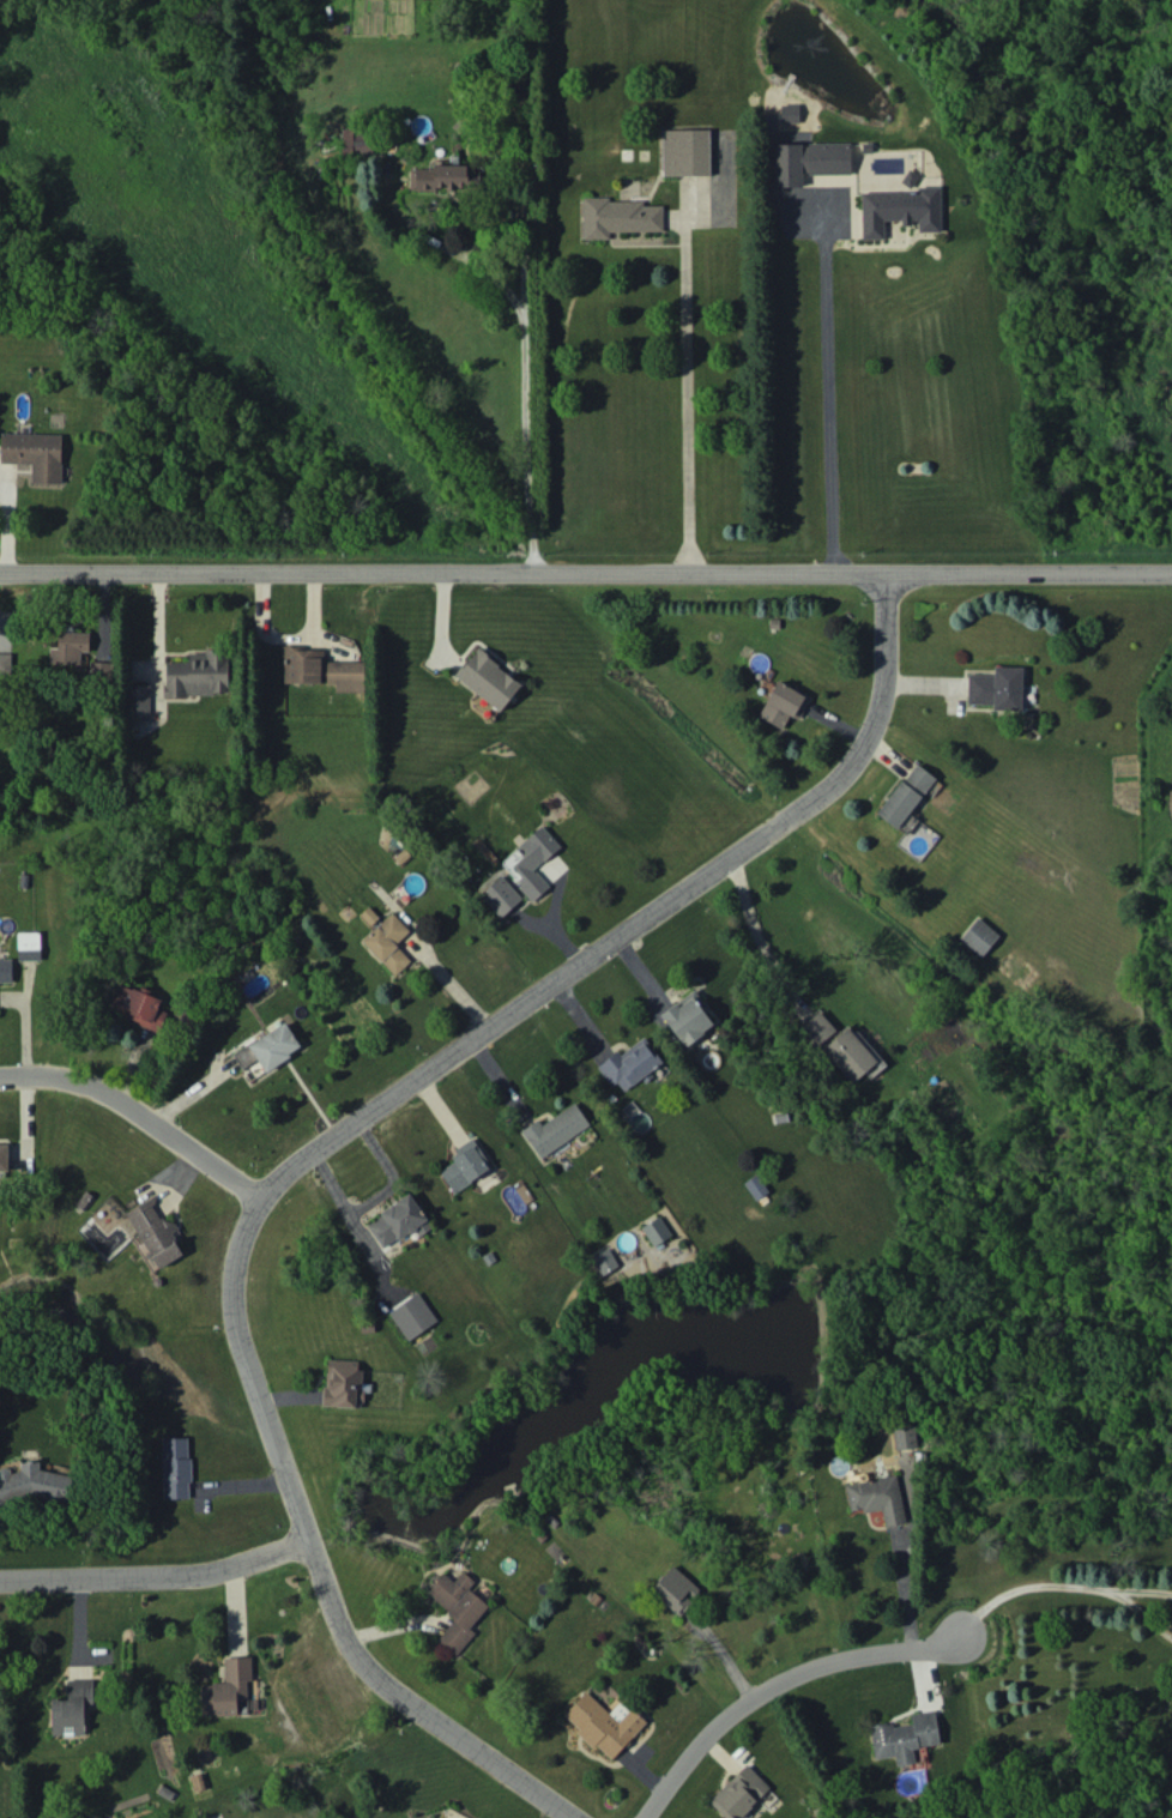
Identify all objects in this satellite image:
building: (790, 113)
building: (356, 141)
building: (685, 151)
building: (809, 161)
building: (440, 176)
building: (900, 210)
building: (617, 216)
road: (824, 392)
road: (681, 397)
road: (525, 399)
building: (35, 453)
road: (586, 564)
building: (68, 651)
building: (5, 662)
building: (321, 669)
building: (101, 670)
building: (198, 674)
building: (488, 678)
building: (997, 688)
building: (139, 700)
building: (784, 703)
building: (906, 795)
building: (534, 860)
building: (500, 895)
road: (636, 916)
road: (756, 929)
building: (978, 936)
building: (388, 942)
building: (29, 944)
building: (5, 970)
building: (138, 1005)
building: (687, 1017)
building: (817, 1027)
building: (268, 1047)
building: (853, 1053)
building: (630, 1064)
road: (131, 1110)
building: (555, 1129)
building: (4, 1156)
building: (465, 1165)
building: (756, 1186)
building: (398, 1220)
building: (657, 1230)
building: (156, 1232)
building: (604, 1261)
road: (586, 1270)
building: (412, 1315)
road: (569, 1342)
building: (343, 1382)
building: (905, 1437)
building: (176, 1467)
building: (34, 1484)
building: (877, 1497)
road: (306, 1553)
road: (151, 1571)
building: (675, 1588)
road: (902, 1588)
road: (1009, 1596)
road: (1132, 1599)
building: (457, 1609)
road: (1132, 1625)
road: (762, 1685)
building: (226, 1687)
building: (72, 1708)
building: (604, 1723)
building: (905, 1737)
building: (739, 1793)

